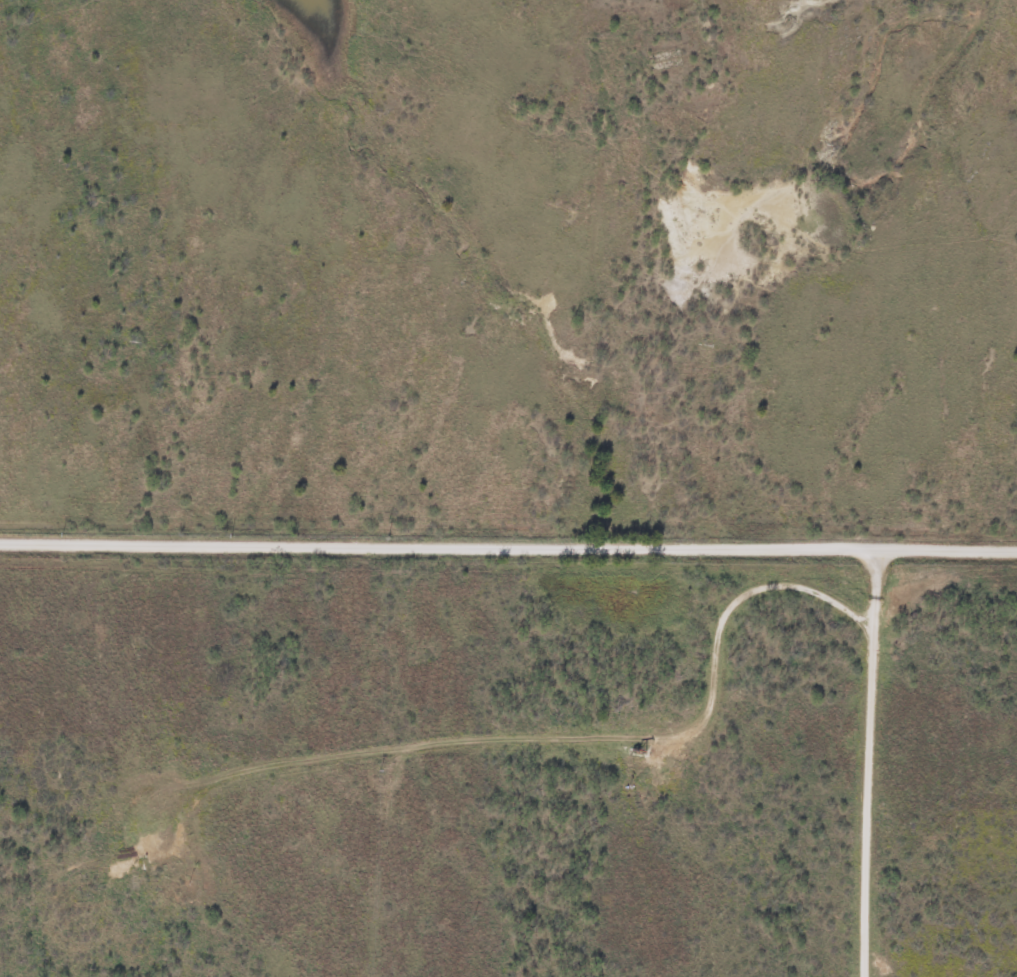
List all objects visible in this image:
road: (508, 548)
road: (911, 763)

